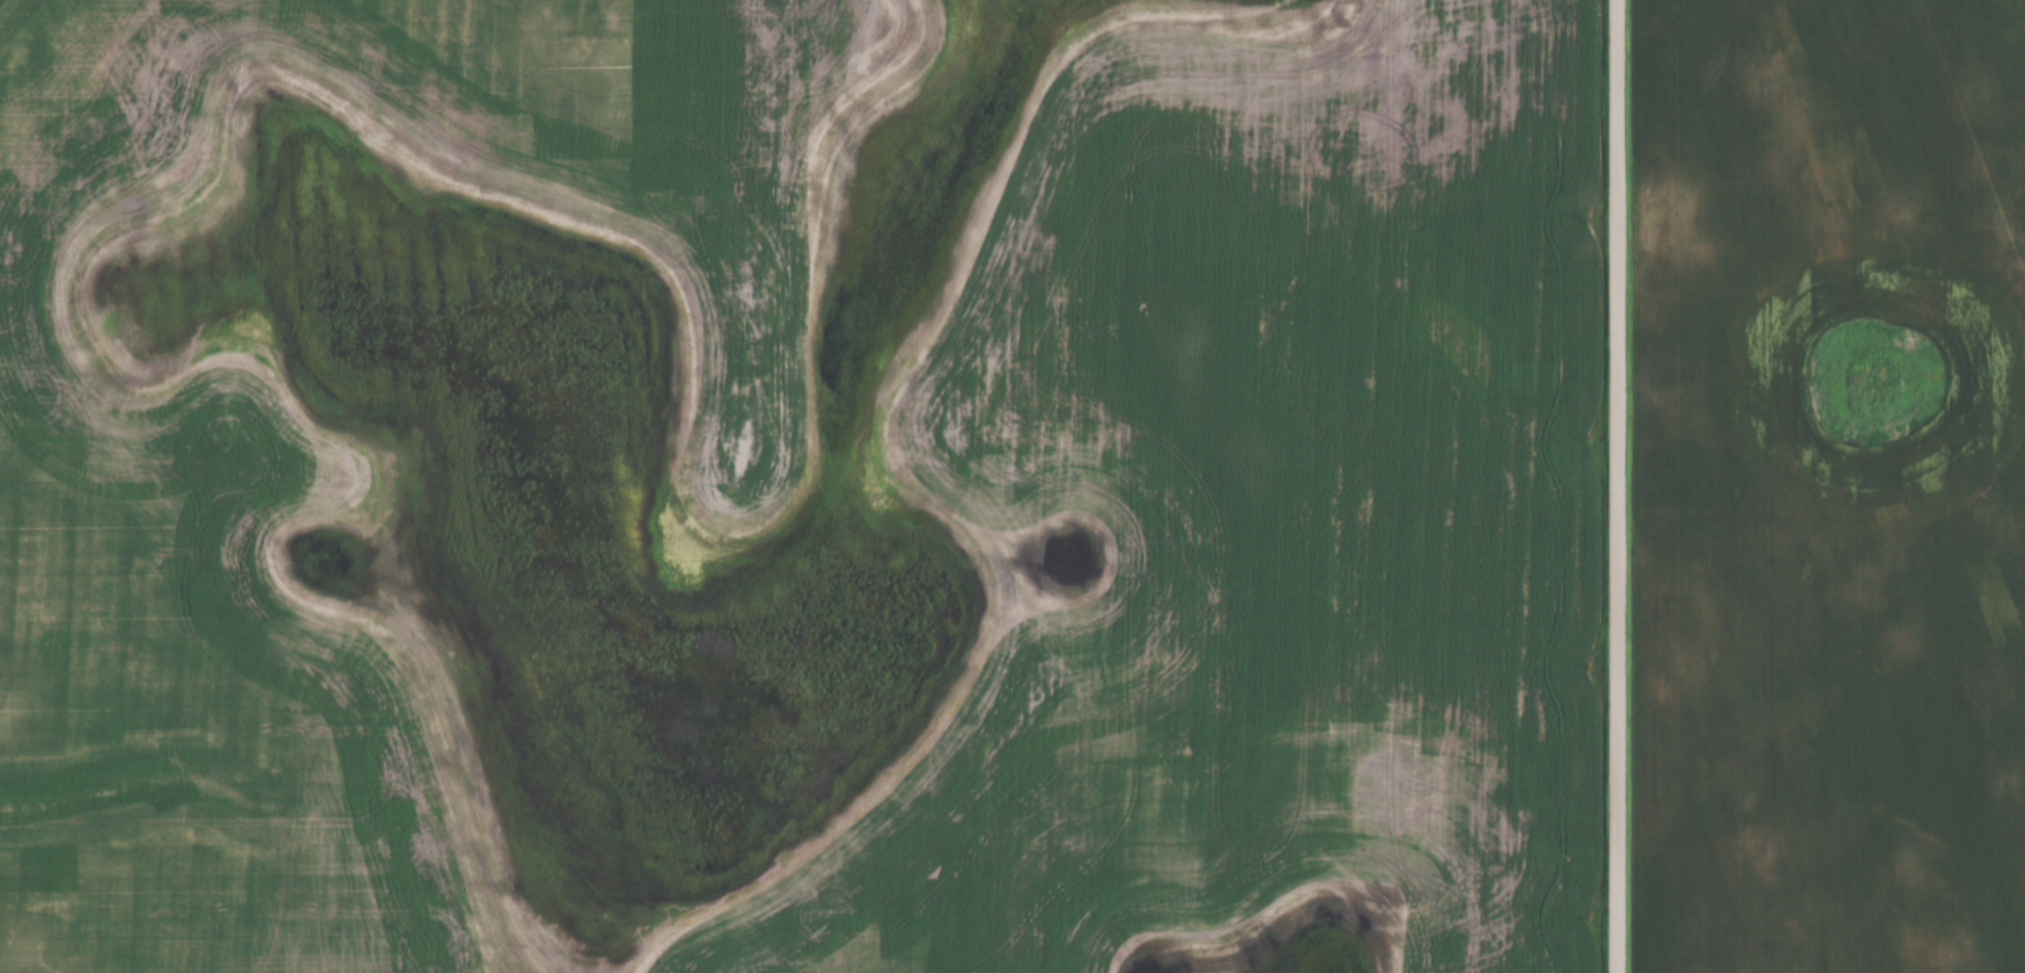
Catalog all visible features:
road: (1618, 486)

